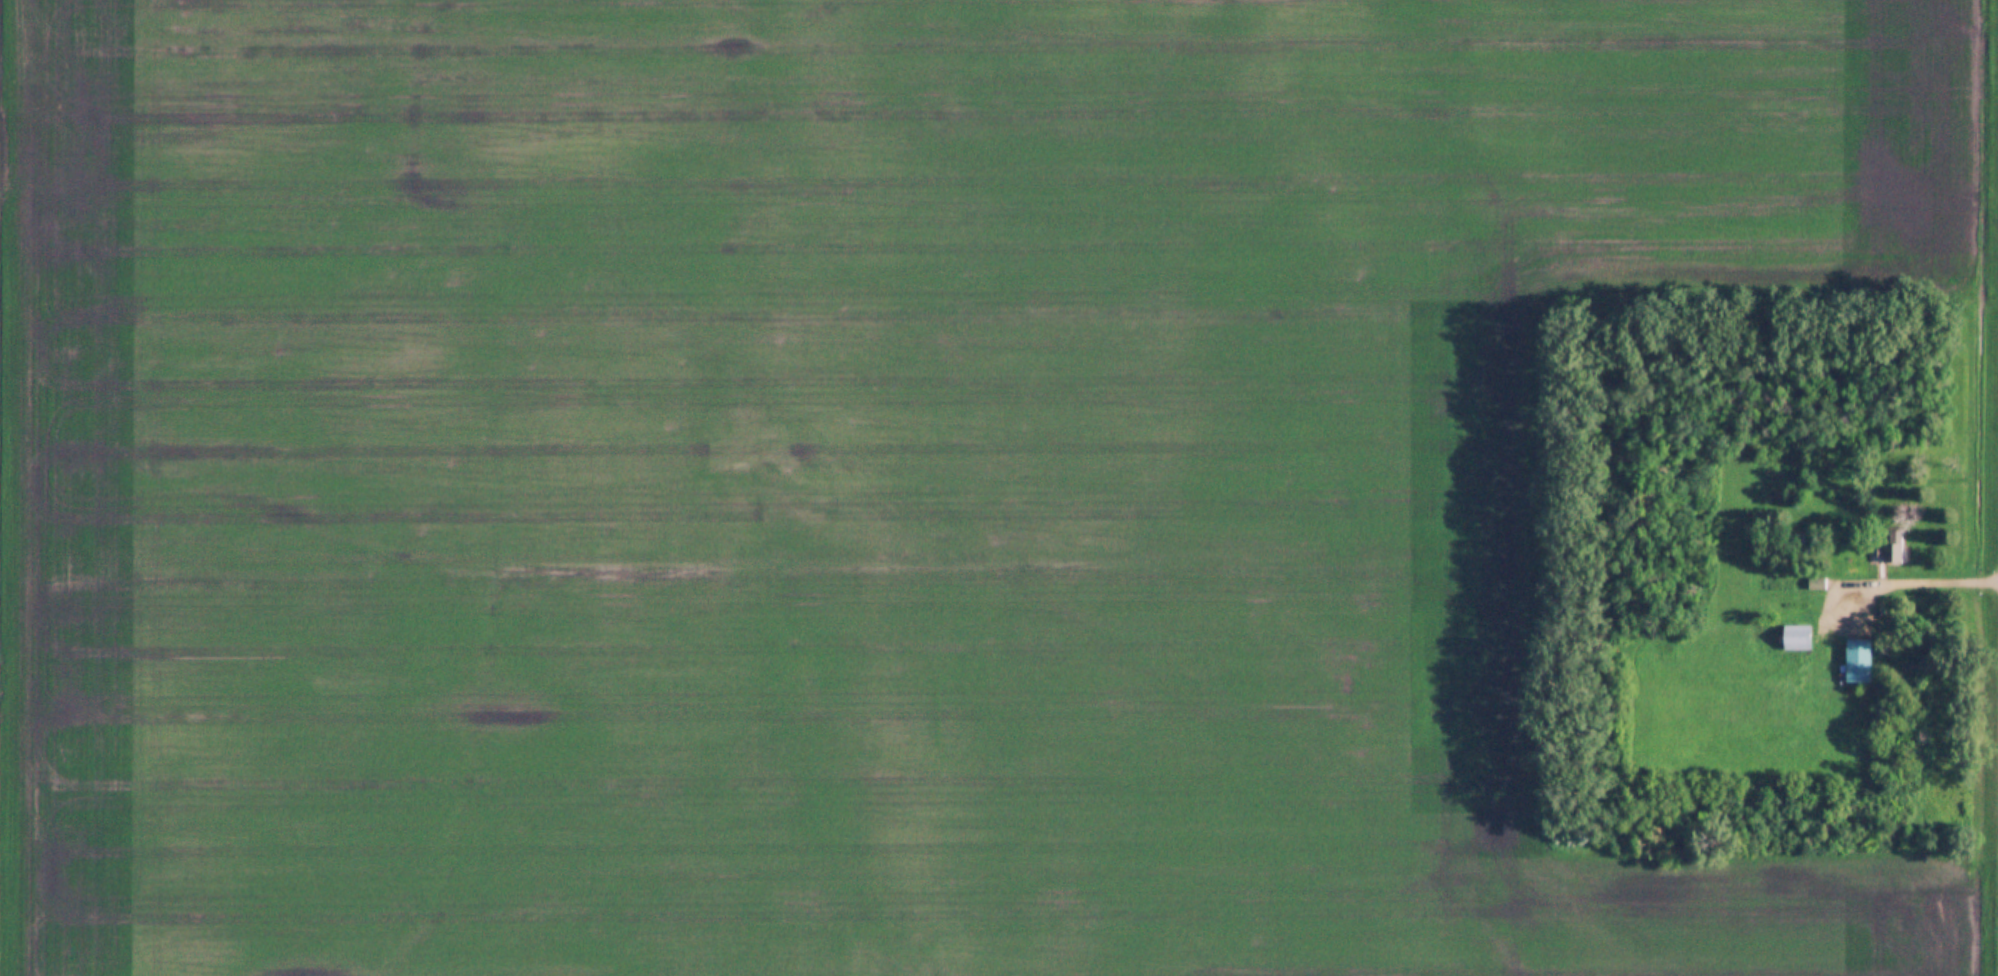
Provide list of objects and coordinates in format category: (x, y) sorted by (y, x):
road: (1937, 581)
road: (1828, 621)
building: (1798, 636)

